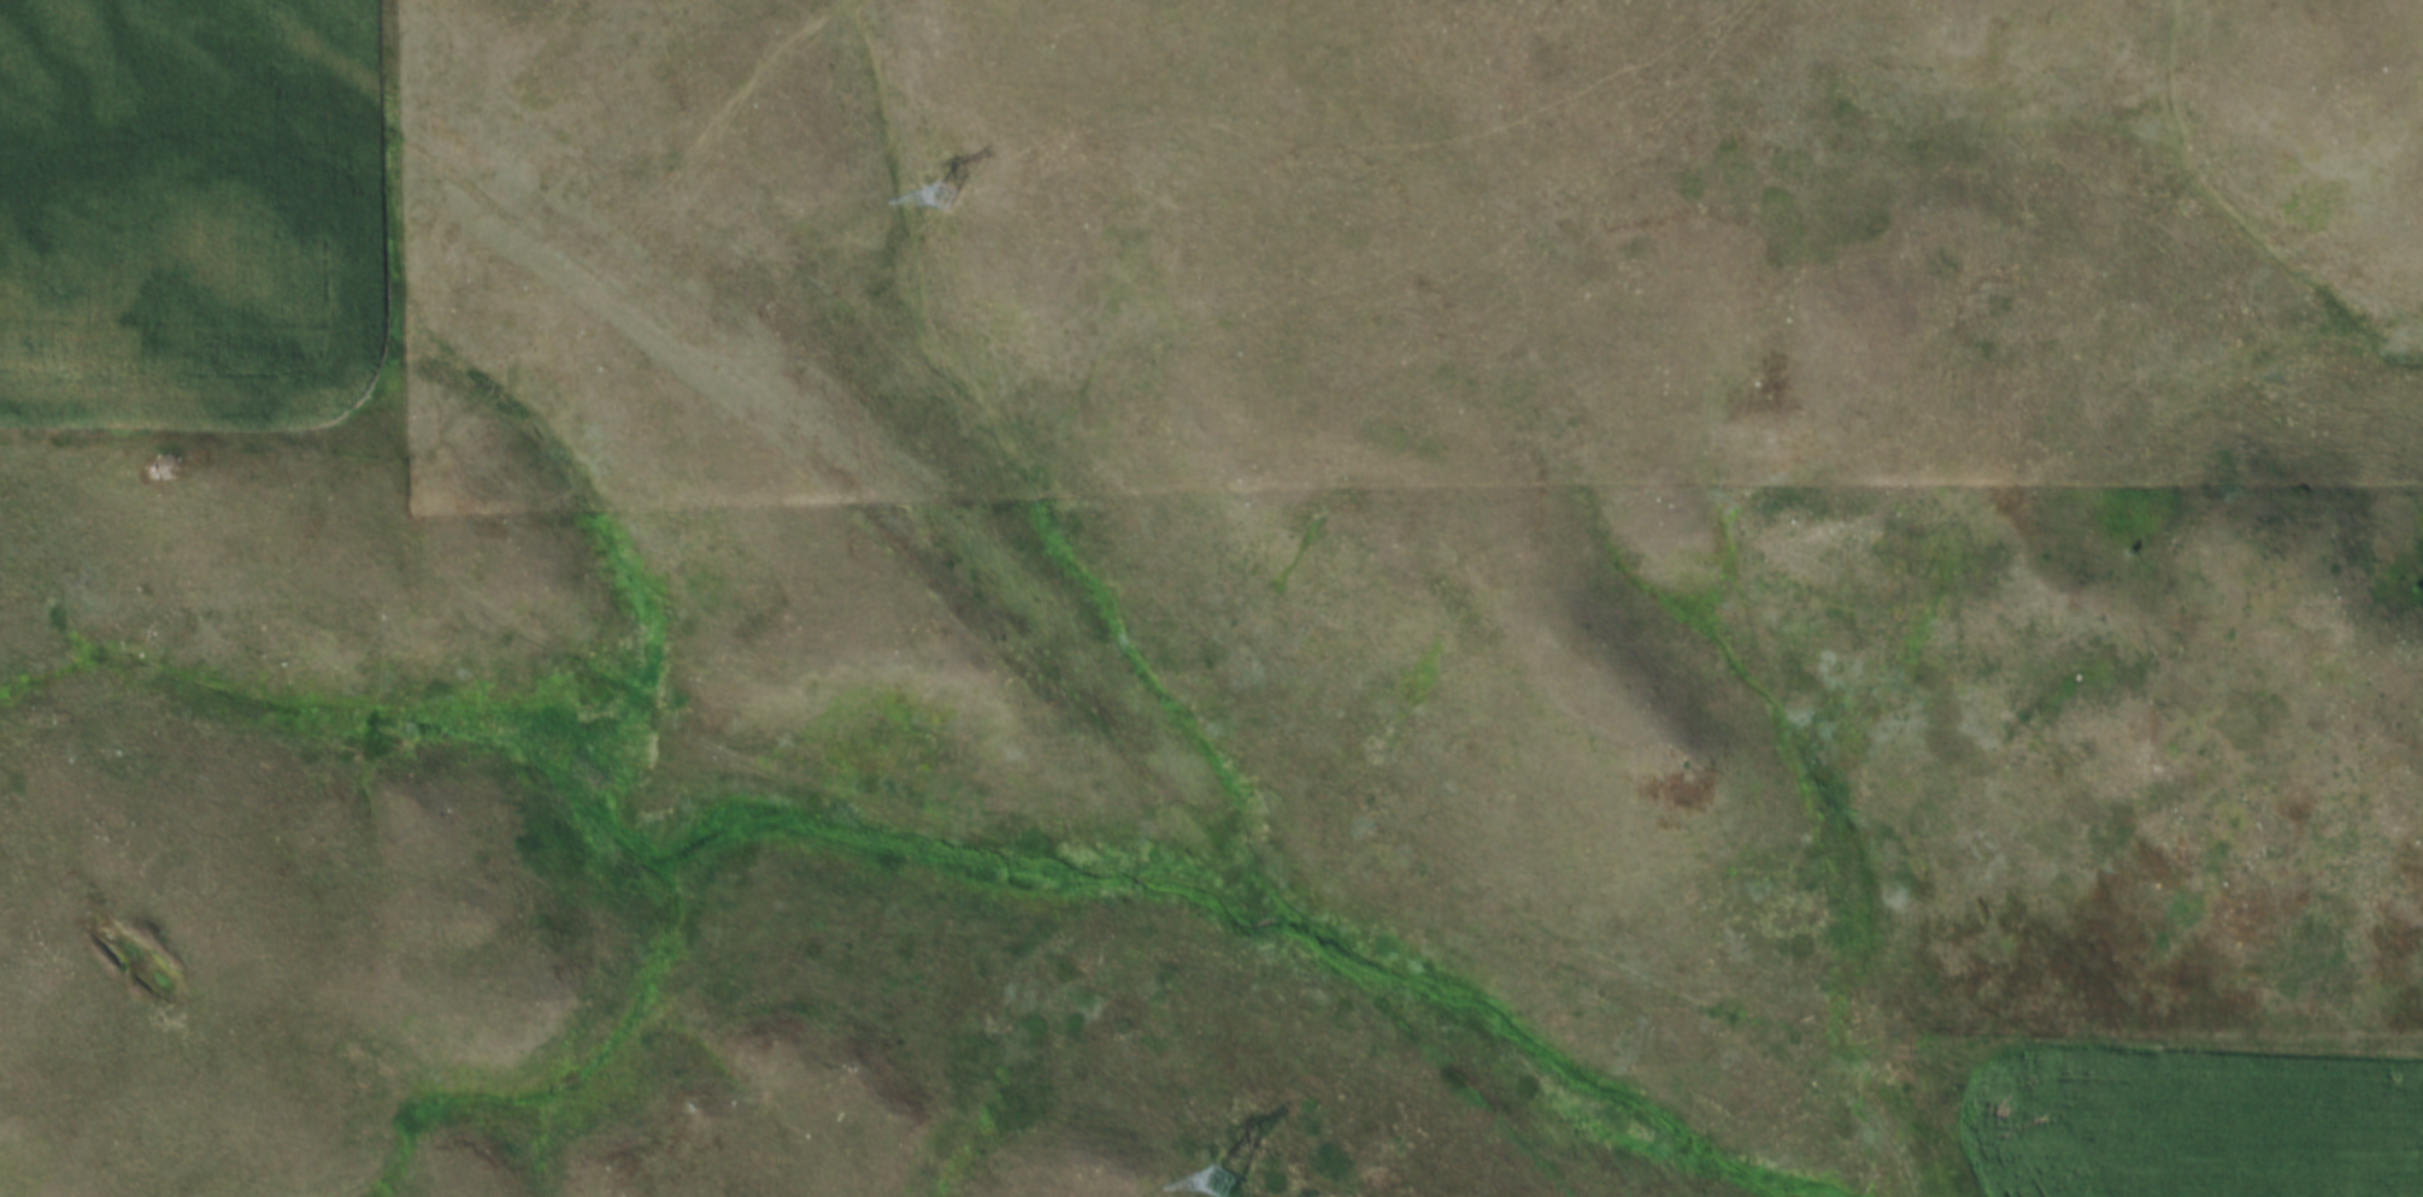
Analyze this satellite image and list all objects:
power tower: (941, 200)
power tower: (1224, 1195)

